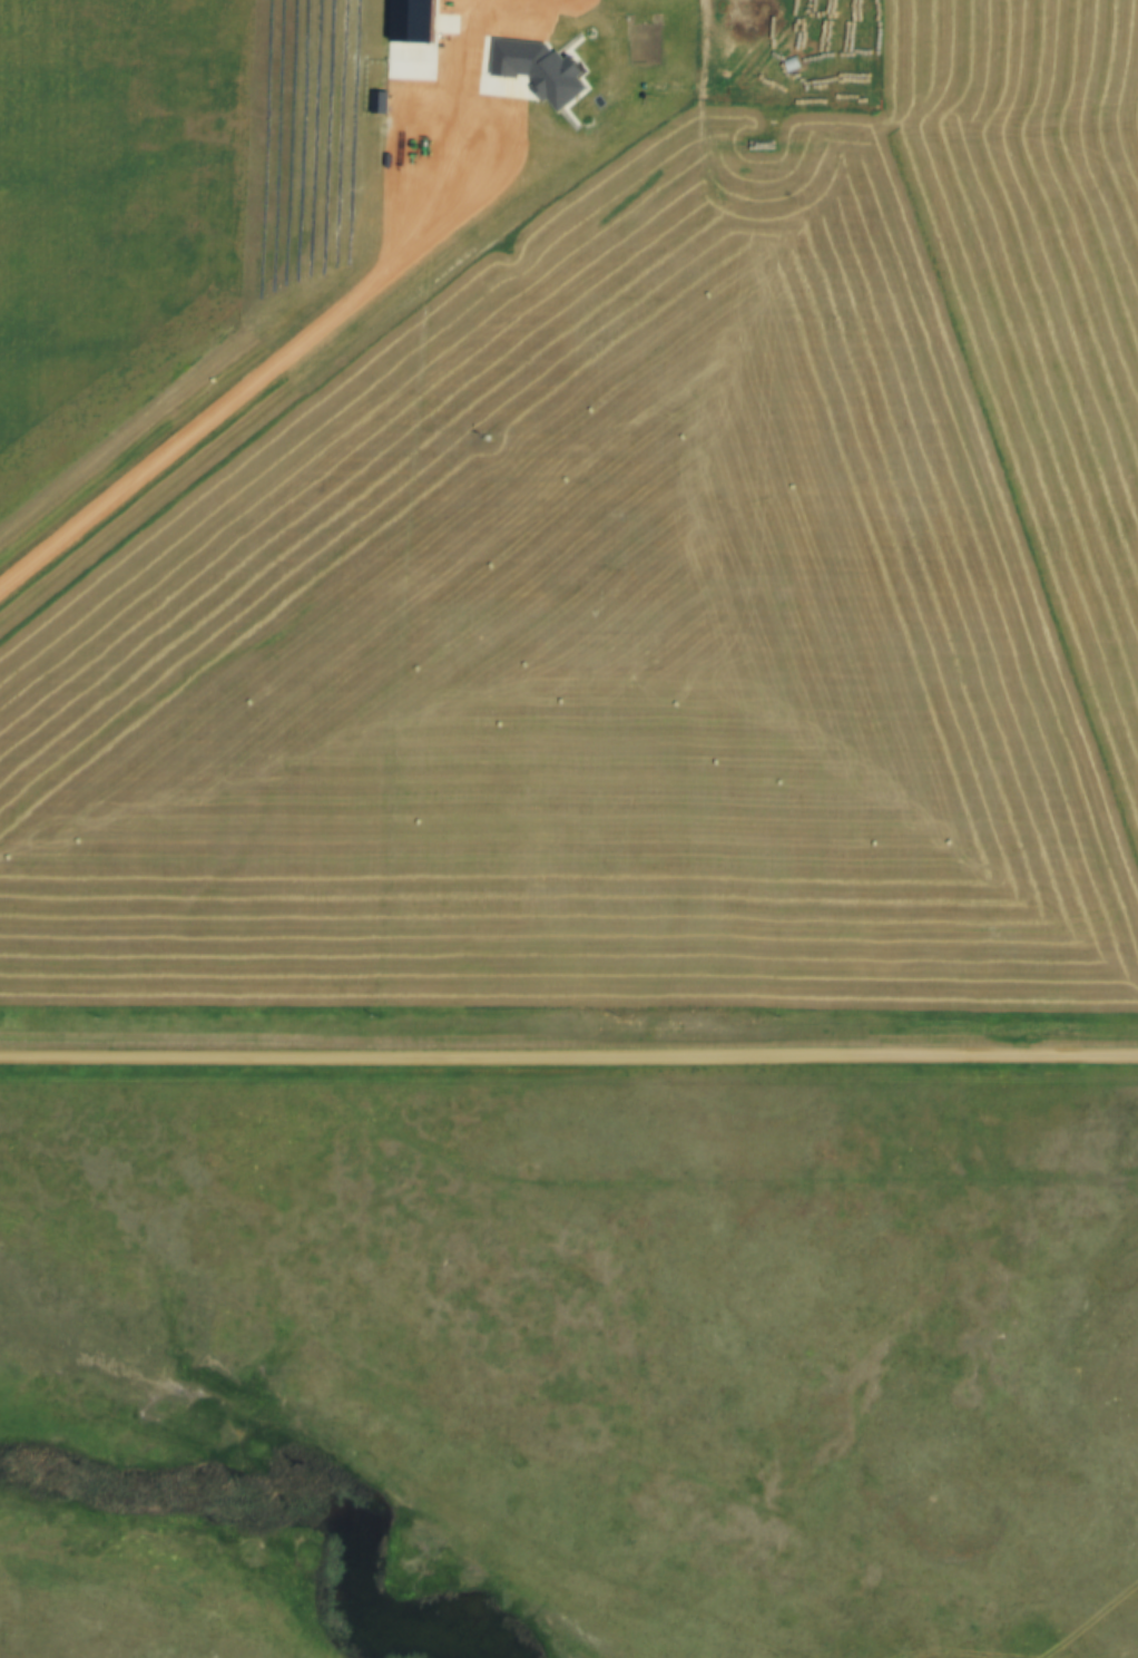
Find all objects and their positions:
road: (569, 1057)

